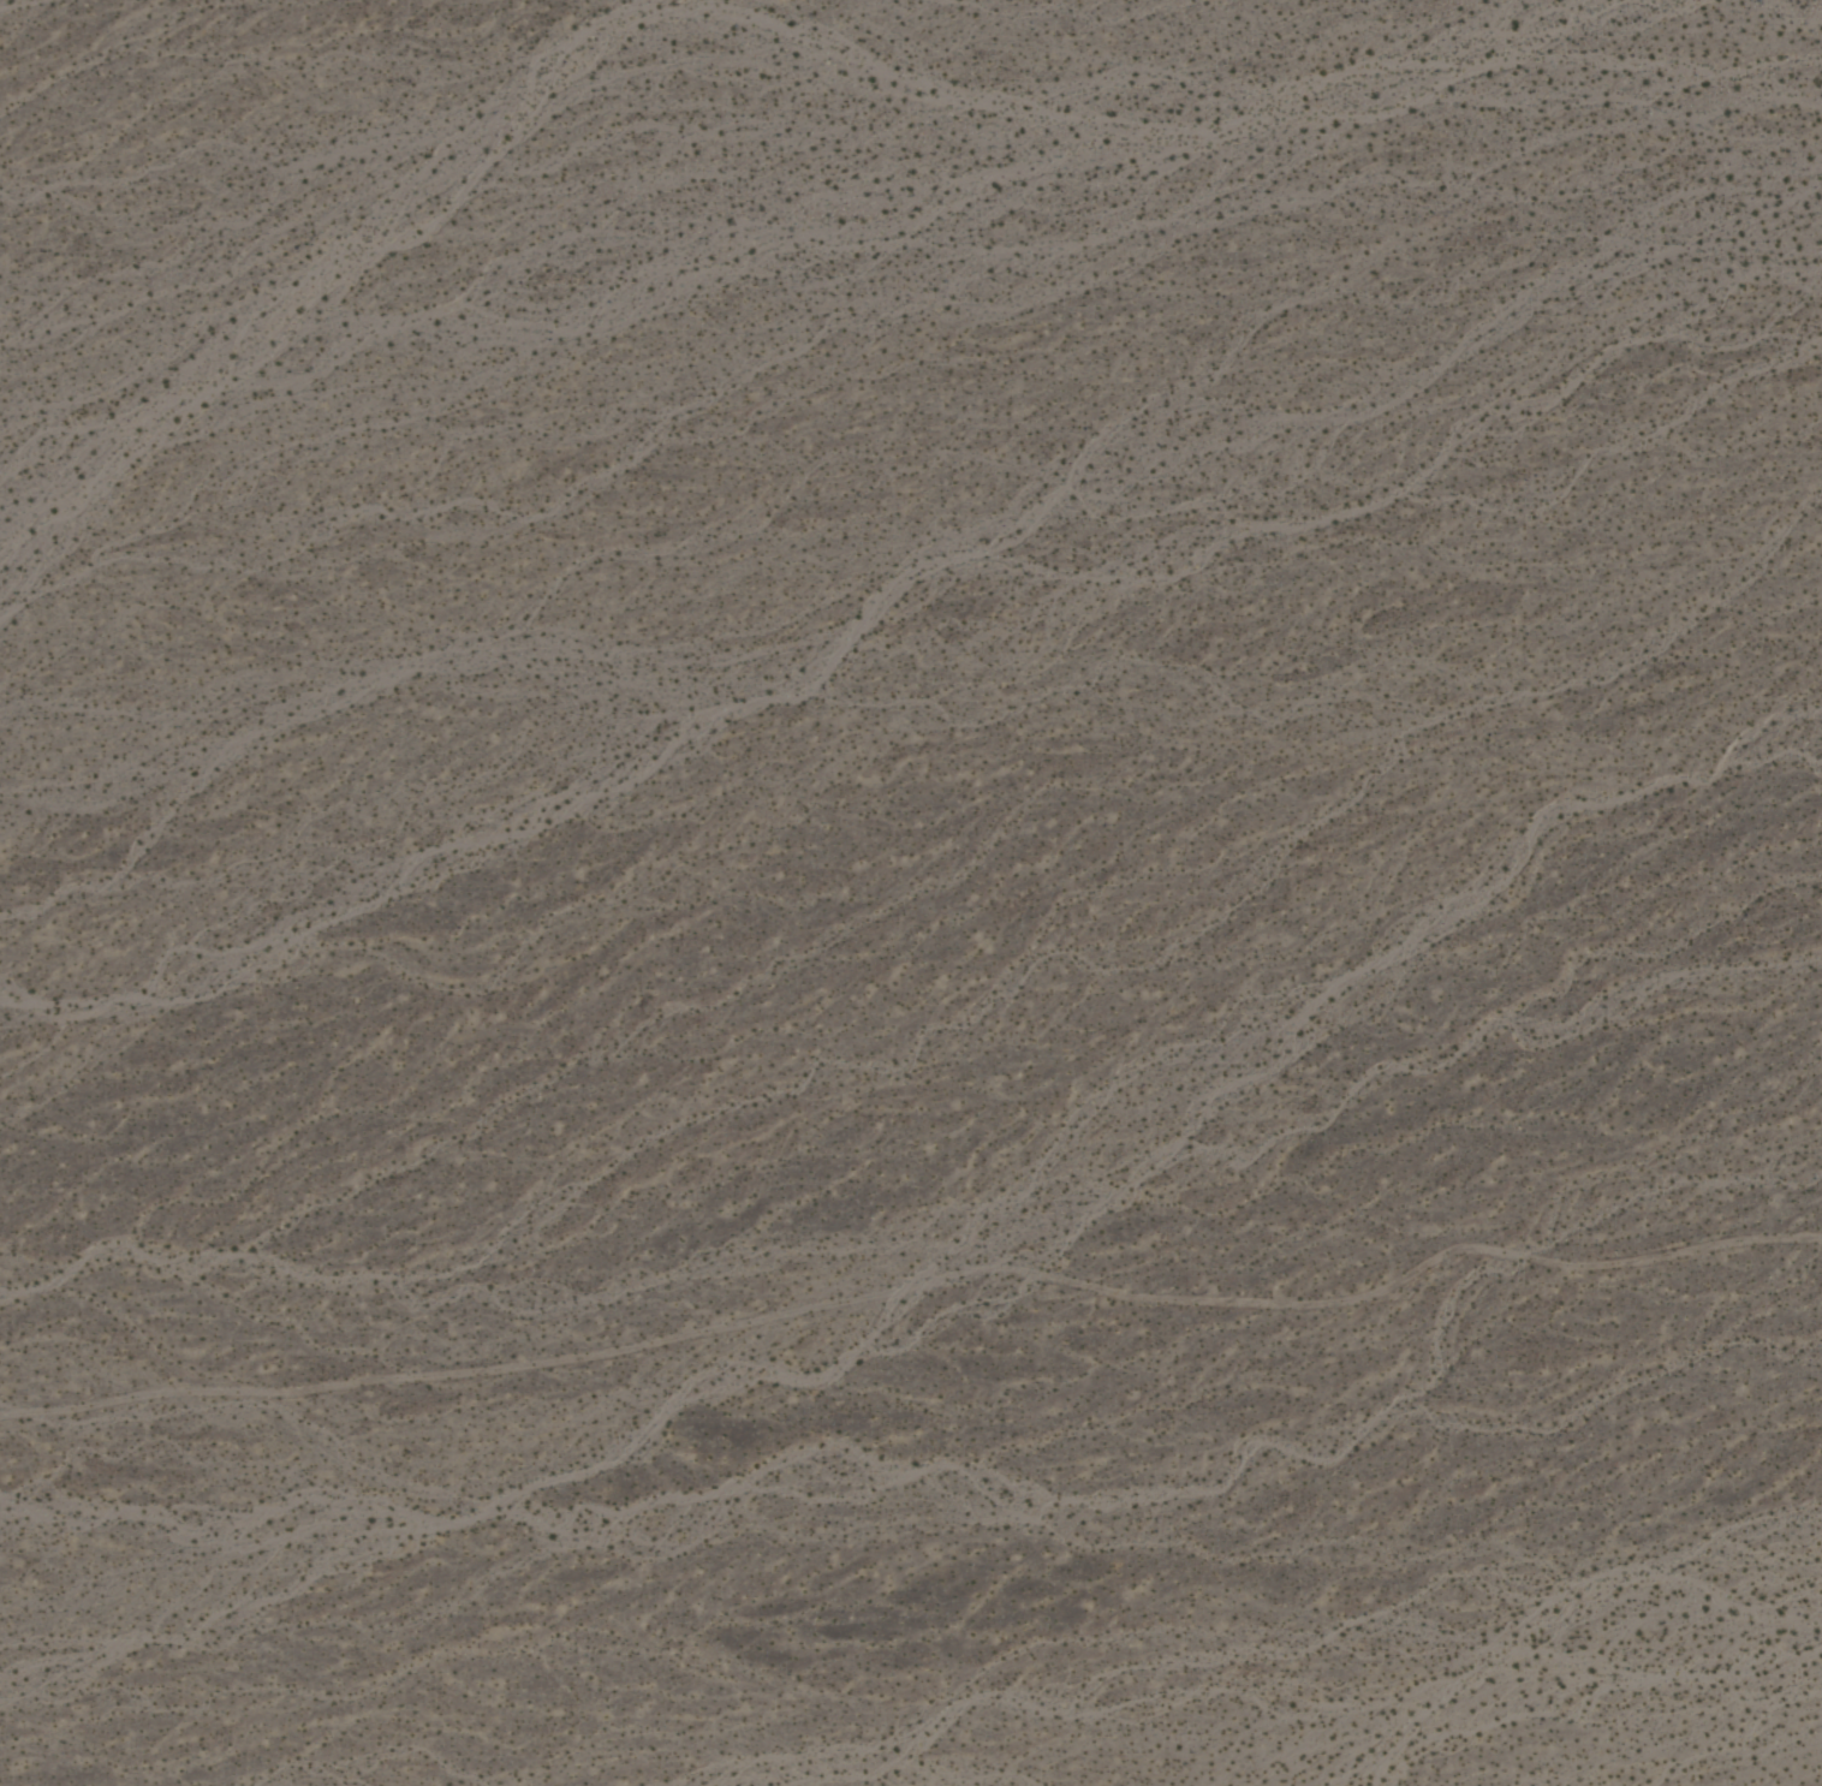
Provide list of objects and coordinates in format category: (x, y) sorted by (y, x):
road: (916, 1287)

